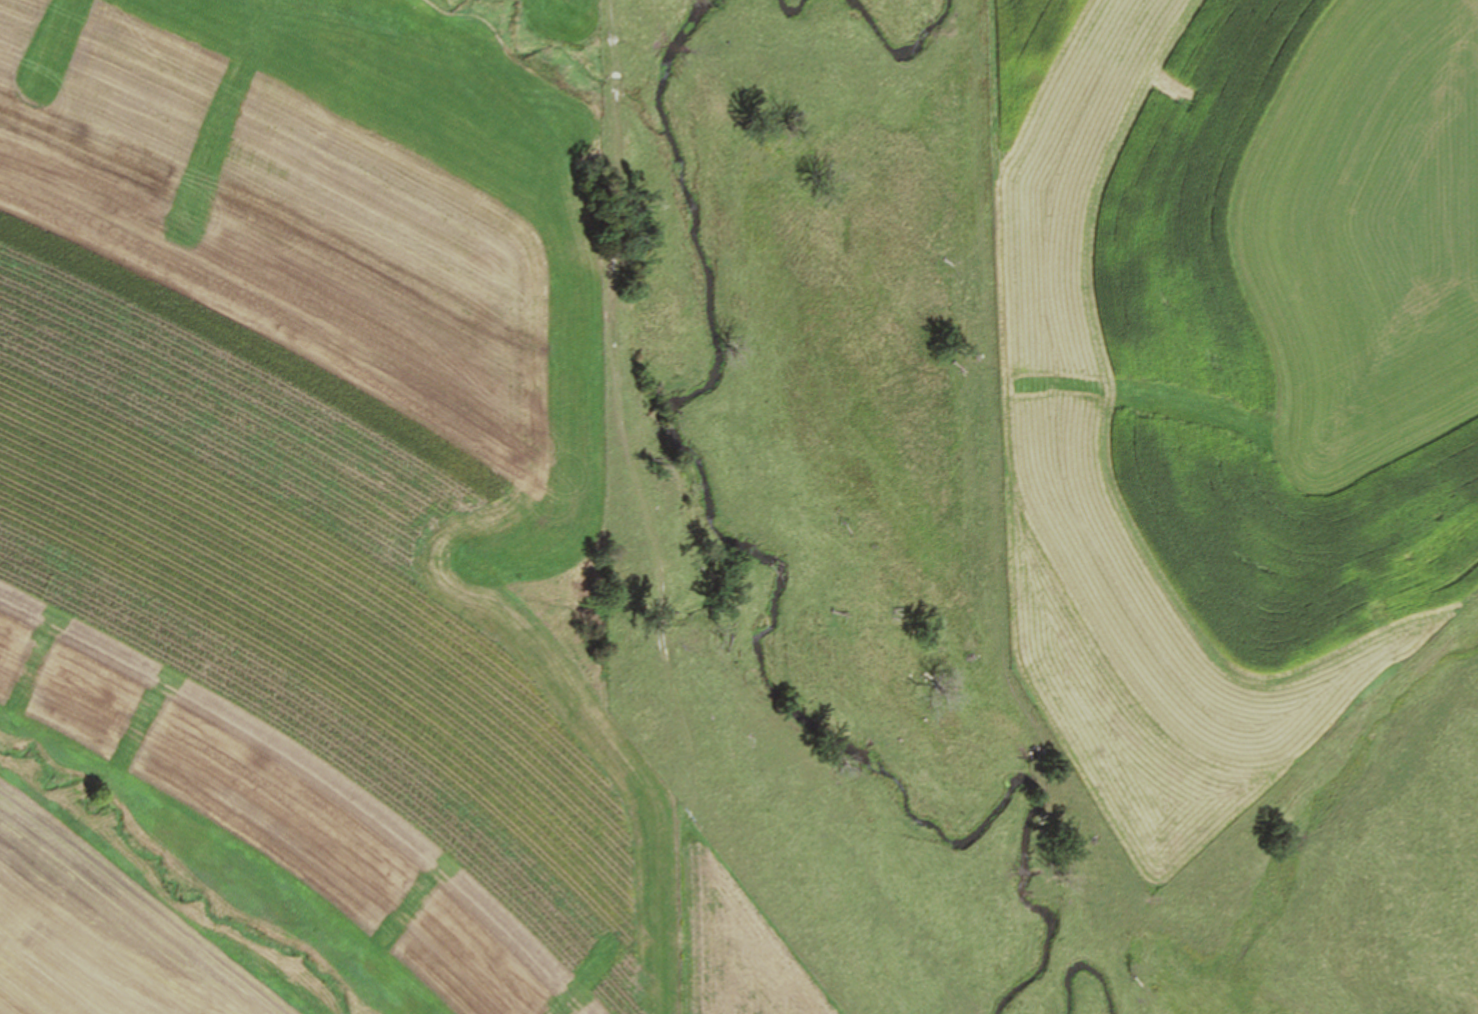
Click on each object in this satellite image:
river: (797, 12)
river: (901, 45)
river: (778, 587)
river: (1088, 966)

